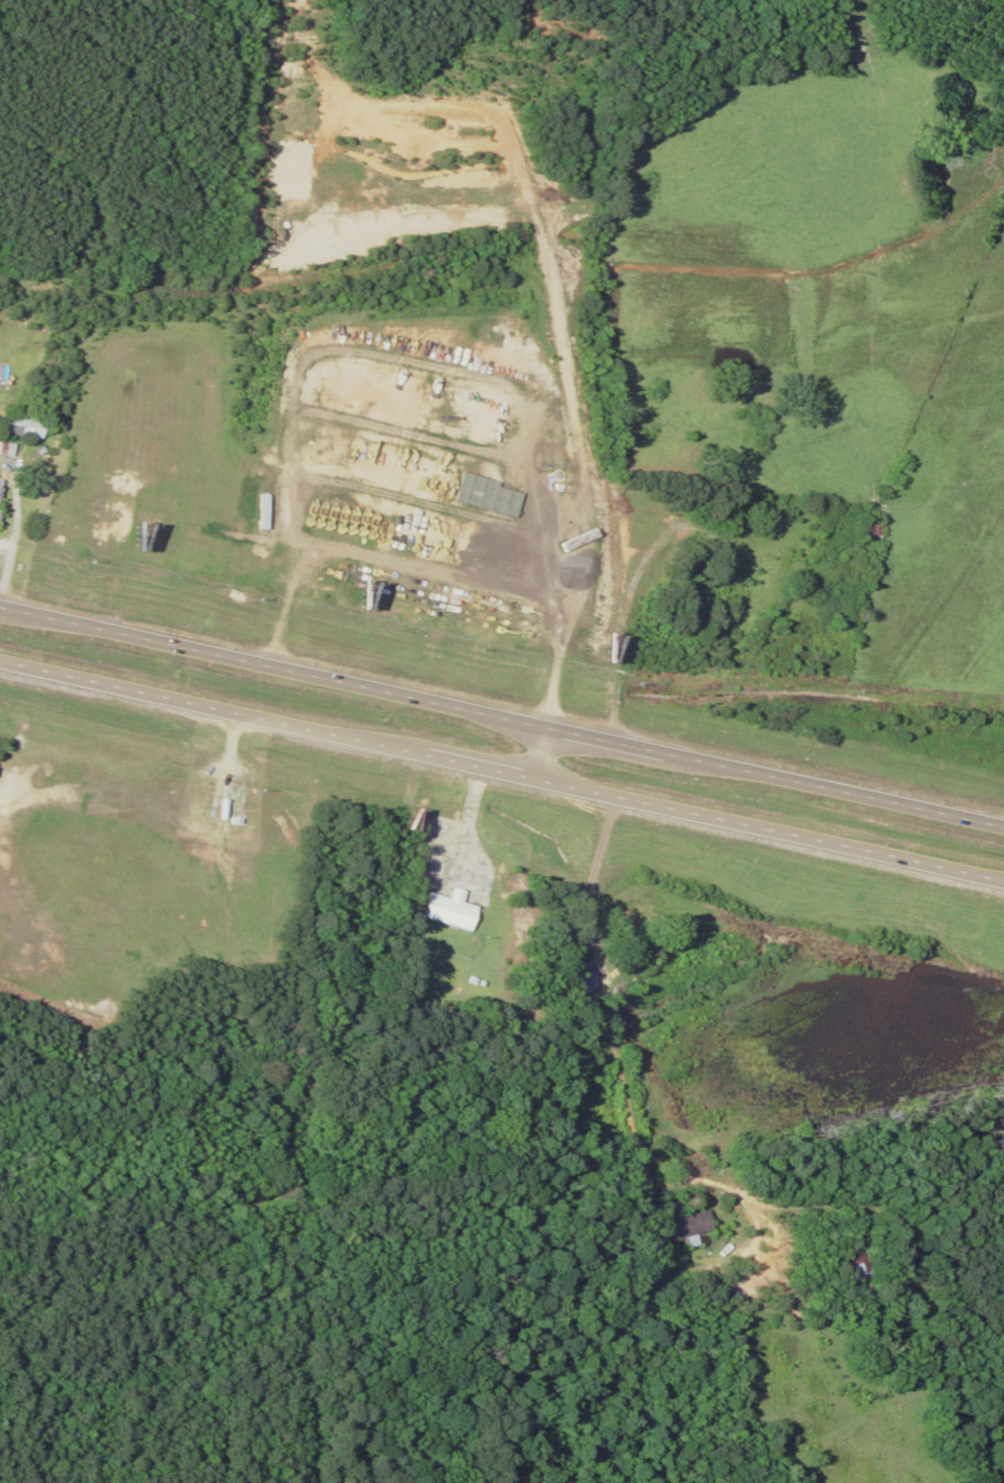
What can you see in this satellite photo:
building: (31, 426)
building: (16, 448)
building: (4, 492)
building: (863, 531)
road: (502, 718)
road: (541, 754)
road: (502, 772)
road: (599, 852)
building: (450, 910)
building: (629, 920)
building: (575, 939)
building: (589, 979)
building: (686, 1224)
building: (849, 1261)

